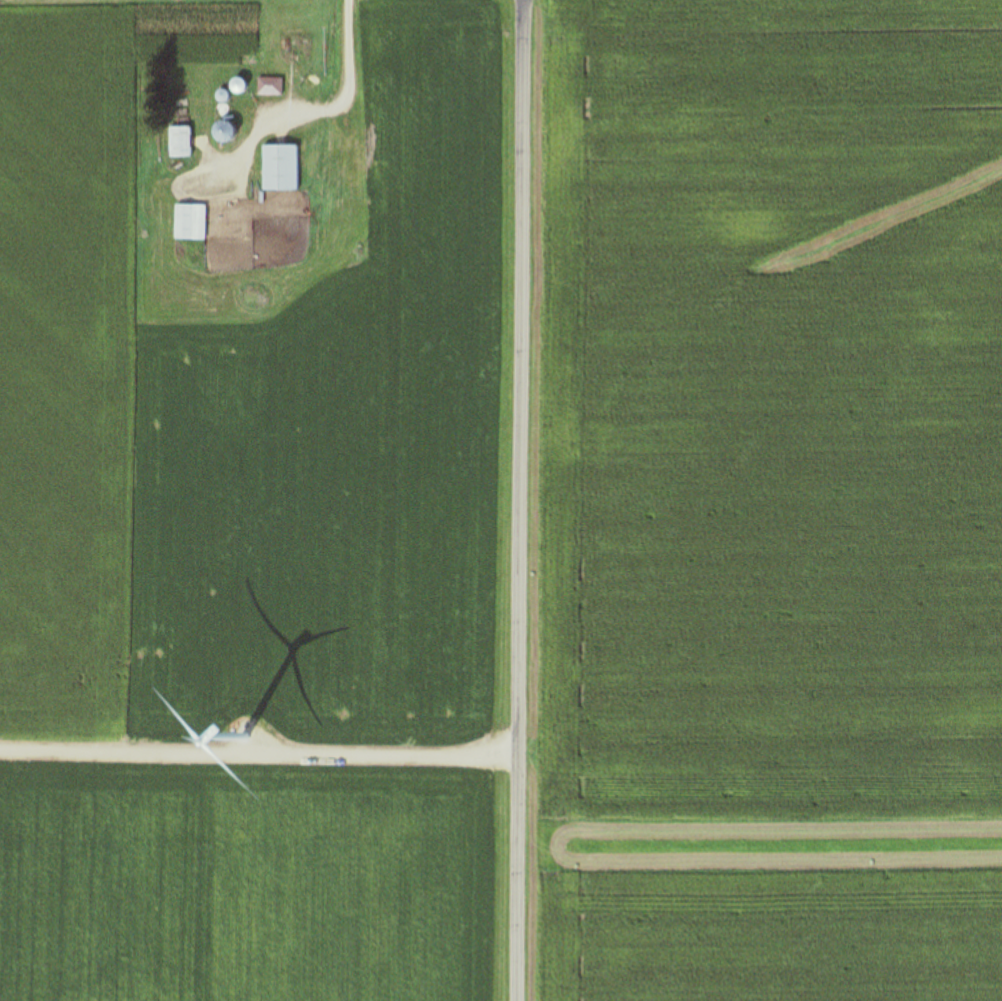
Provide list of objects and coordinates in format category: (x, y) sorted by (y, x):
building: (268, 87)
building: (179, 142)
building: (349, 148)
building: (280, 168)
building: (189, 222)
building: (189, 252)
road: (525, 500)
wind turbine: (271, 763)

